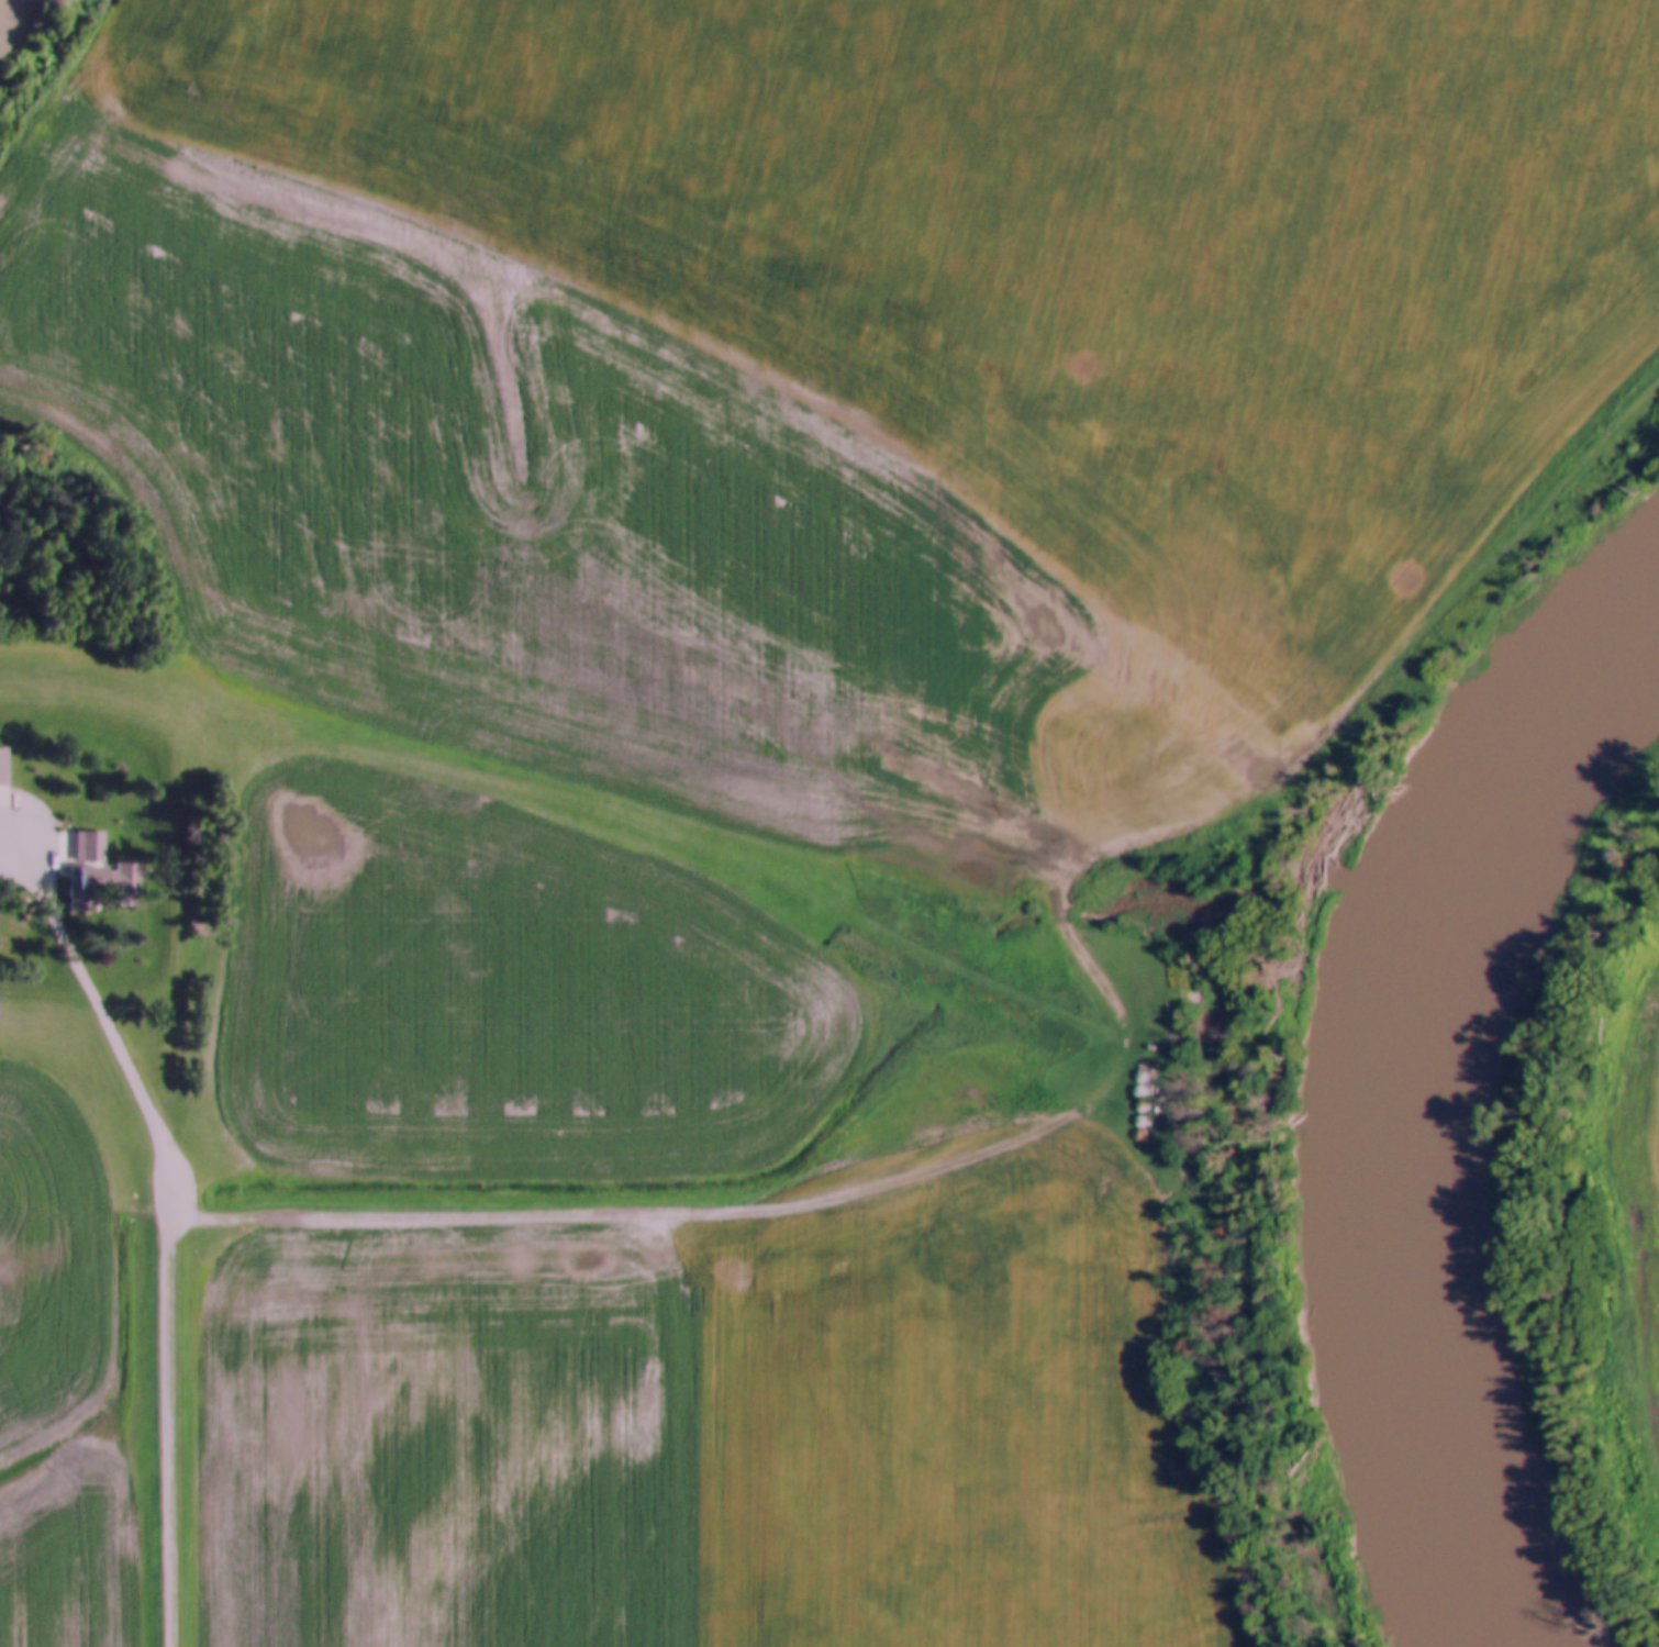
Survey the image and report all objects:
building: (4, 765)
building: (103, 877)
road: (1116, 1088)
river: (1429, 1102)
road: (171, 1221)

